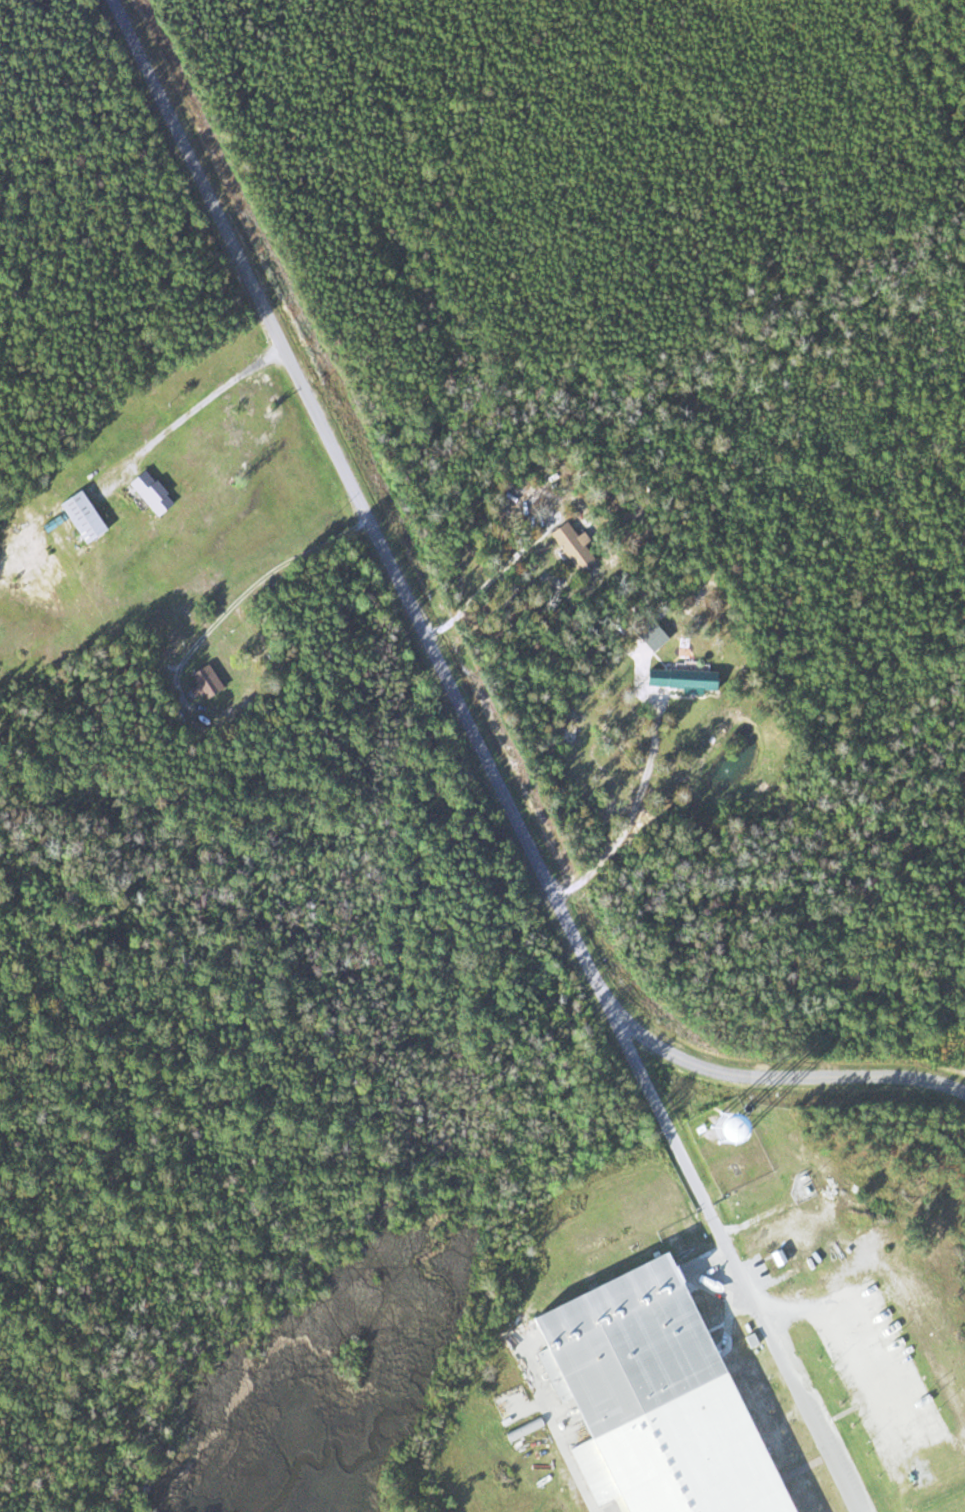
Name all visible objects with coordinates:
building: (147, 491)
building: (76, 516)
building: (569, 546)
building: (649, 635)
road: (443, 671)
building: (679, 679)
building: (203, 680)
water tower: (728, 1130)
road: (729, 1256)
road: (877, 1329)
road: (867, 1378)
parking lot: (862, 1393)
building: (651, 1396)

